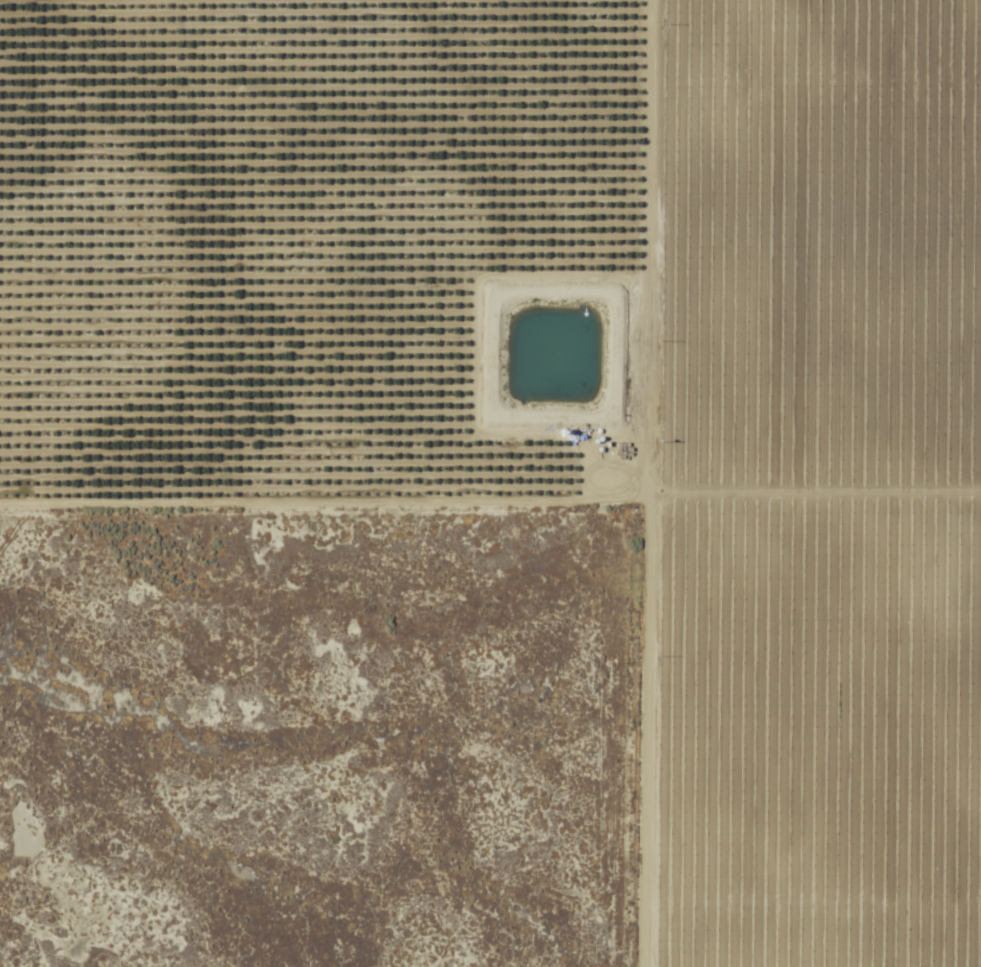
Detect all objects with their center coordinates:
road: (643, 483)

